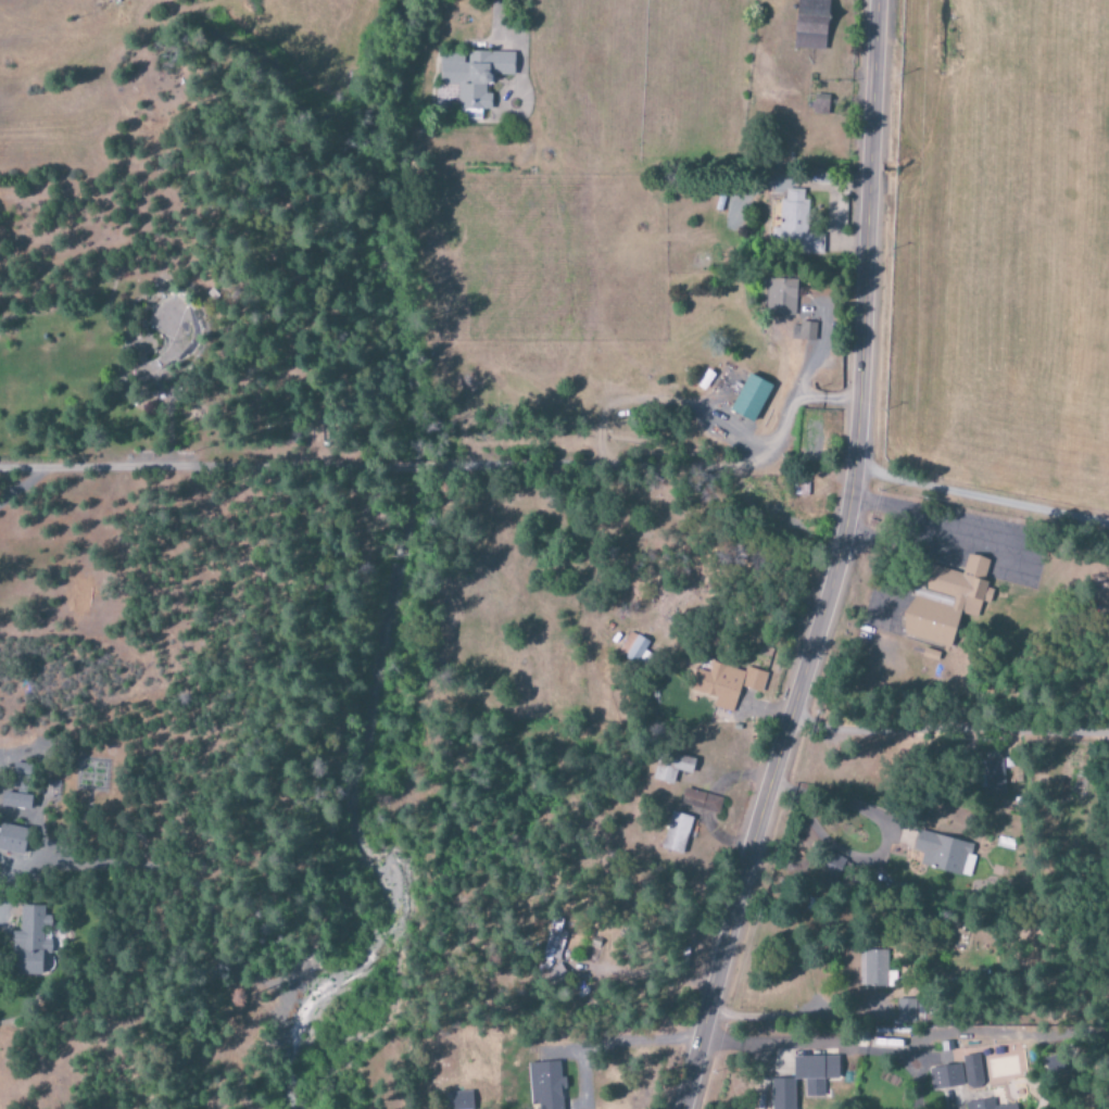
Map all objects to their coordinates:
building: (810, 24)
building: (474, 75)
building: (819, 106)
building: (795, 224)
building: (780, 297)
building: (803, 331)
building: (749, 399)
road: (981, 497)
road: (837, 563)
building: (944, 602)
building: (634, 651)
building: (726, 684)
road: (948, 727)
building: (670, 768)
building: (20, 777)
building: (993, 778)
building: (15, 802)
building: (703, 802)
building: (676, 834)
building: (12, 840)
building: (943, 854)
building: (30, 942)
building: (554, 942)
building: (875, 970)
building: (905, 1011)
building: (972, 1072)
building: (815, 1073)
building: (945, 1078)
building: (545, 1085)
building: (782, 1095)
building: (461, 1100)
building: (981, 1105)

